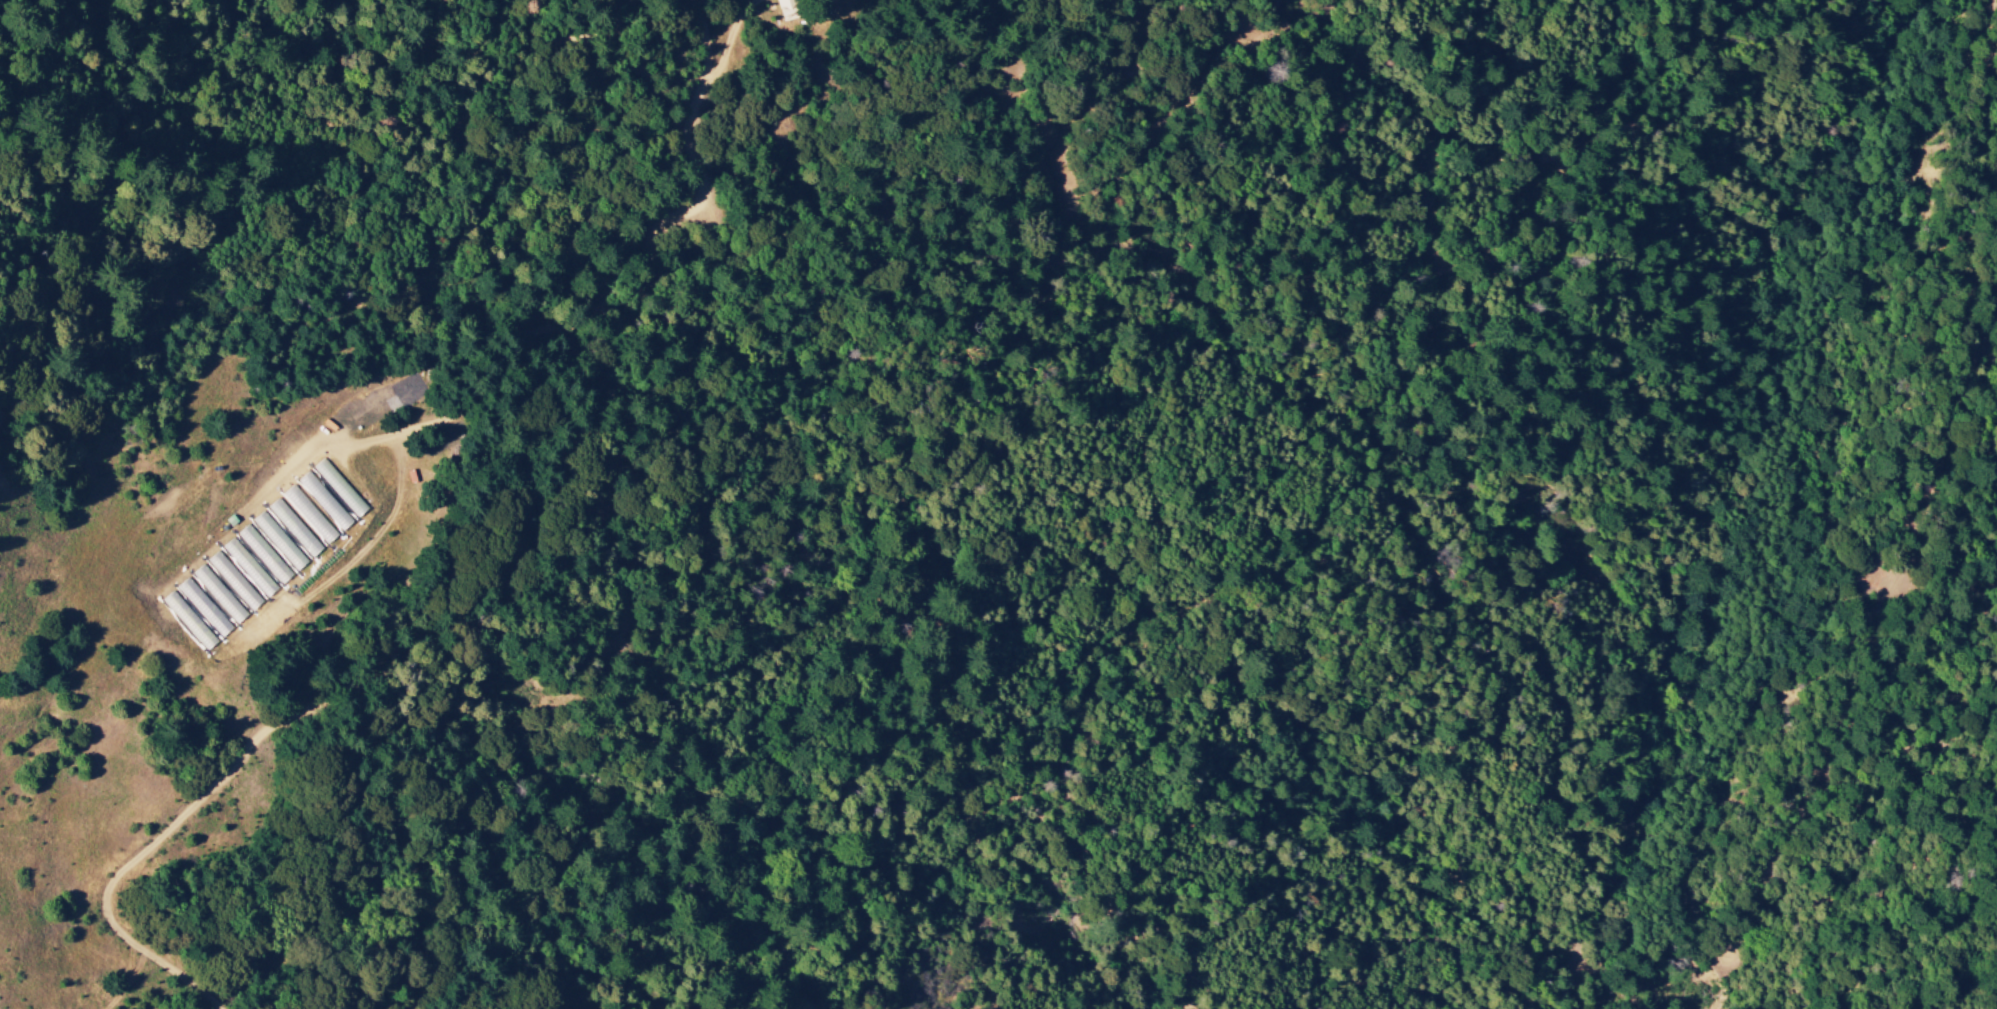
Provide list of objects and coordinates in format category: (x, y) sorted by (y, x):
building: (789, 10)
building: (339, 489)
building: (286, 536)

